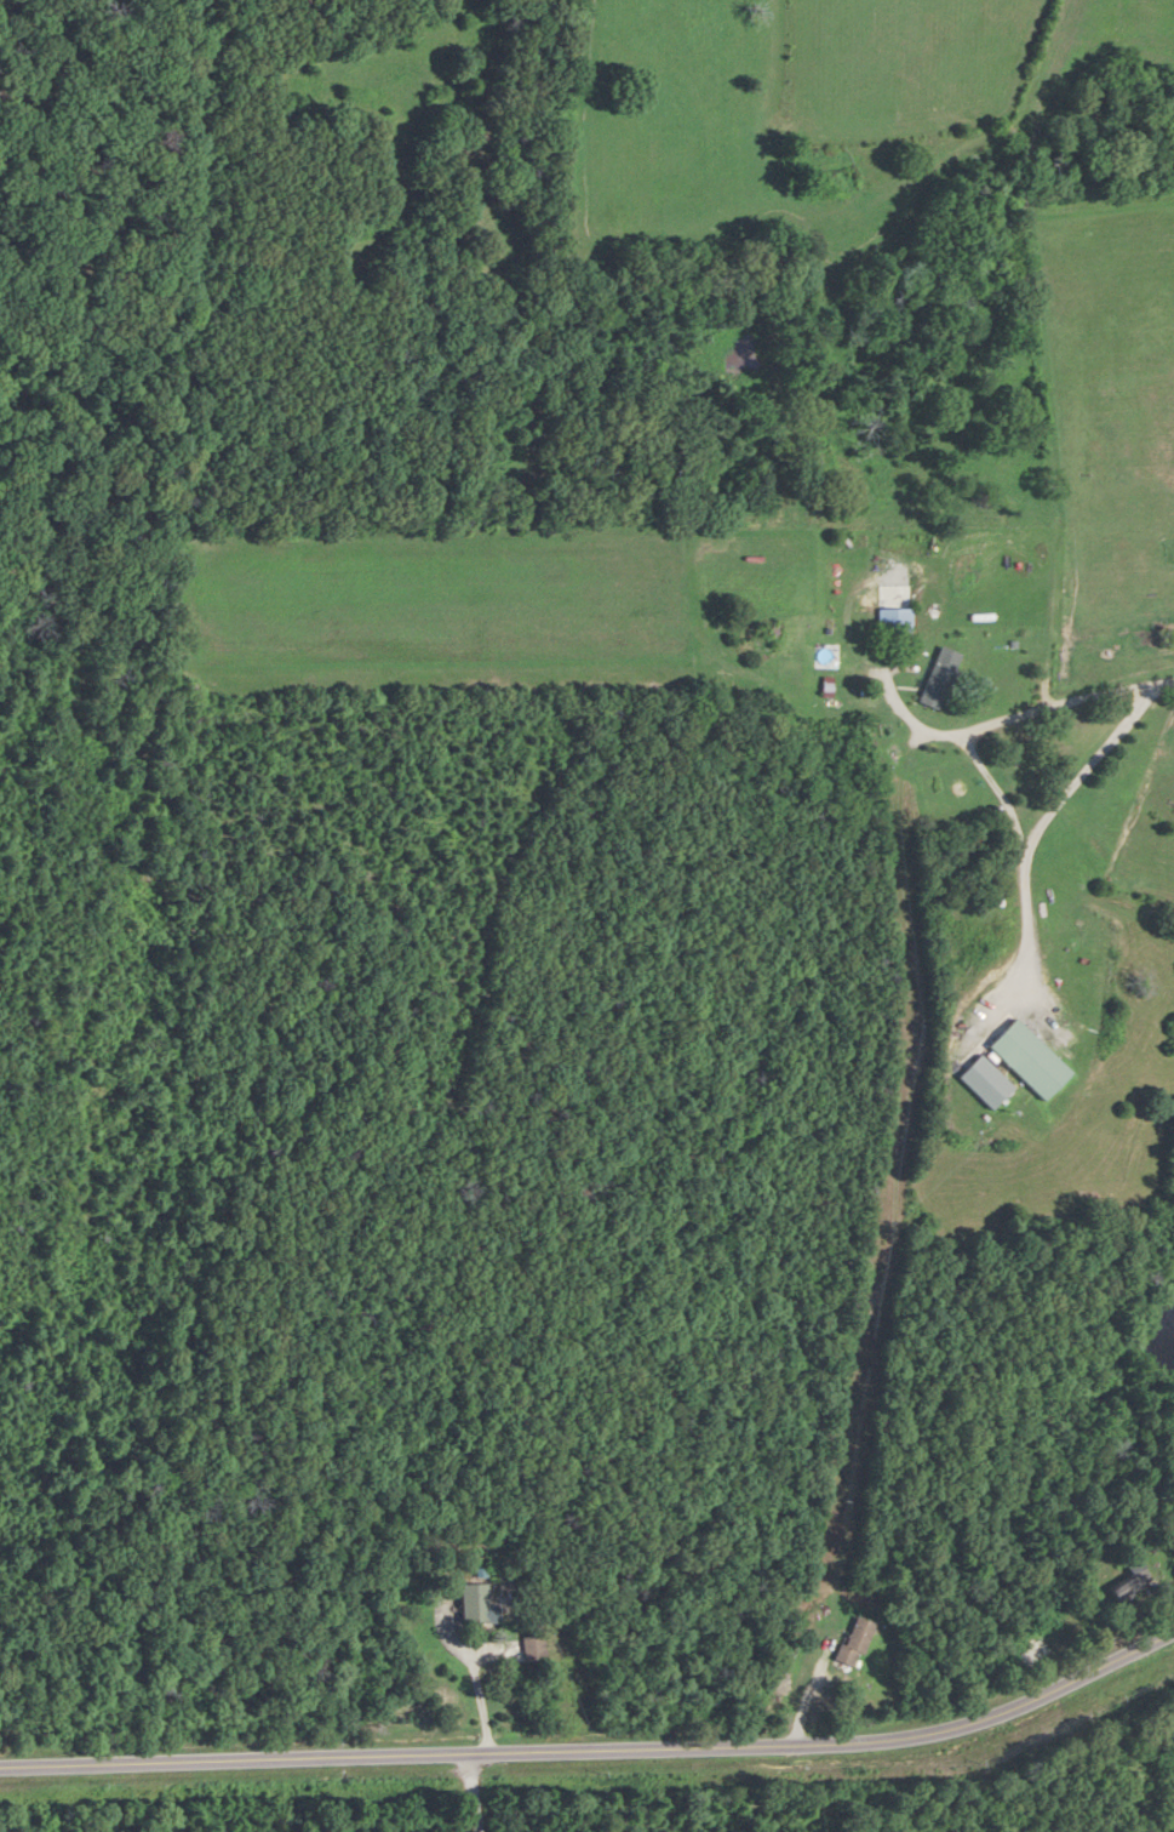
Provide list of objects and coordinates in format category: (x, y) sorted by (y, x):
building: (889, 622)
building: (935, 678)
road: (973, 734)
building: (1030, 1060)
building: (1123, 1587)
road: (473, 1594)
building: (473, 1604)
building: (852, 1642)
building: (1036, 1648)
building: (529, 1649)
road: (481, 1703)
road: (597, 1754)

